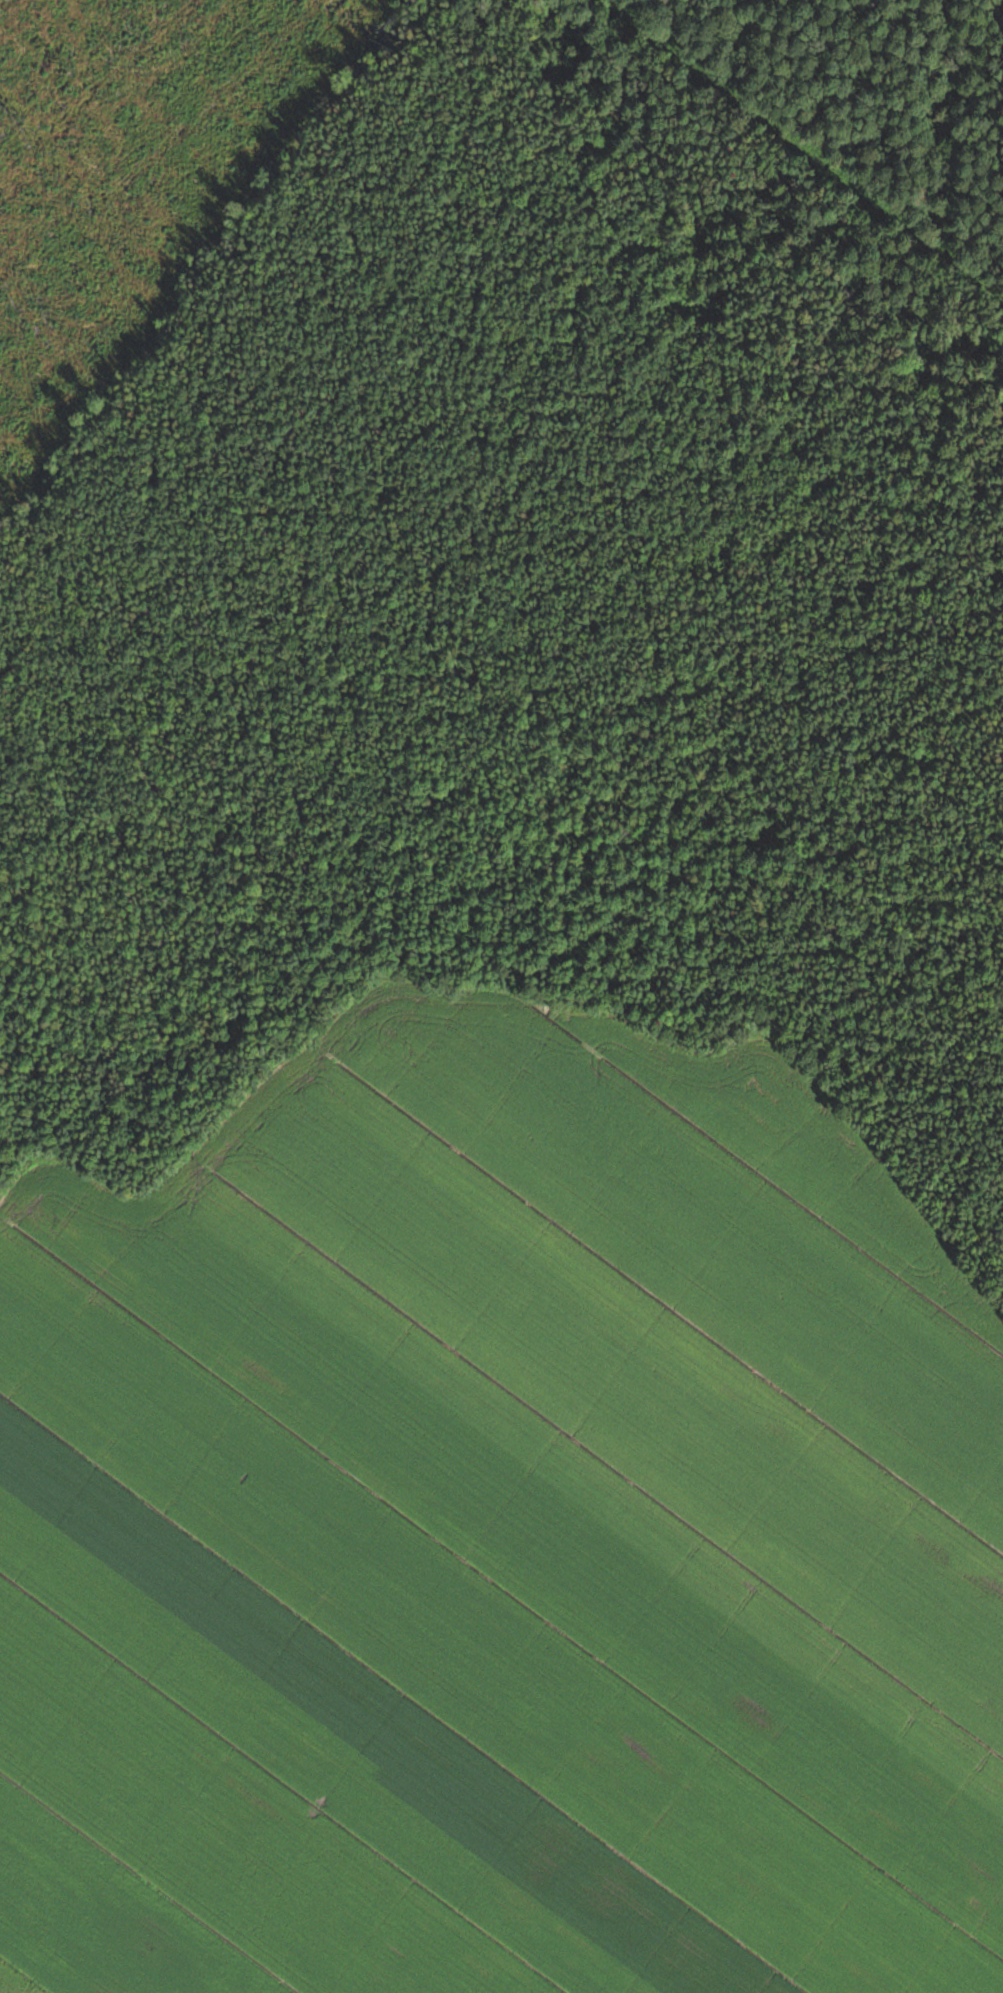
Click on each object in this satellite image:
road: (796, 165)

